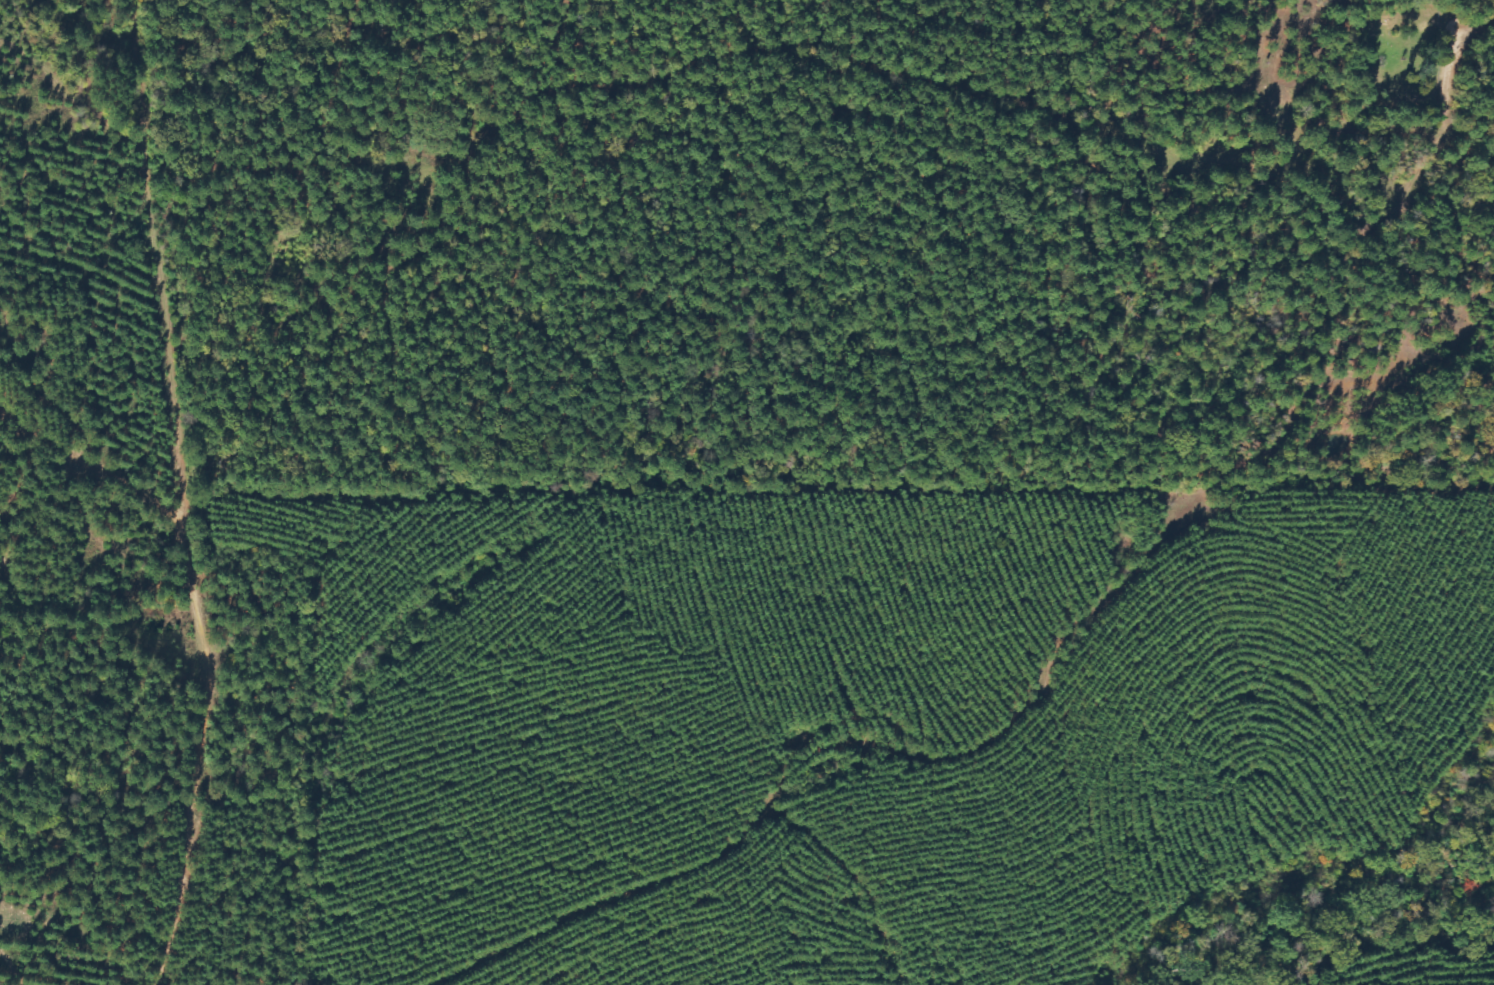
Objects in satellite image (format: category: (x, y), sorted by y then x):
road: (1476, 31)
park: (1415, 56)

